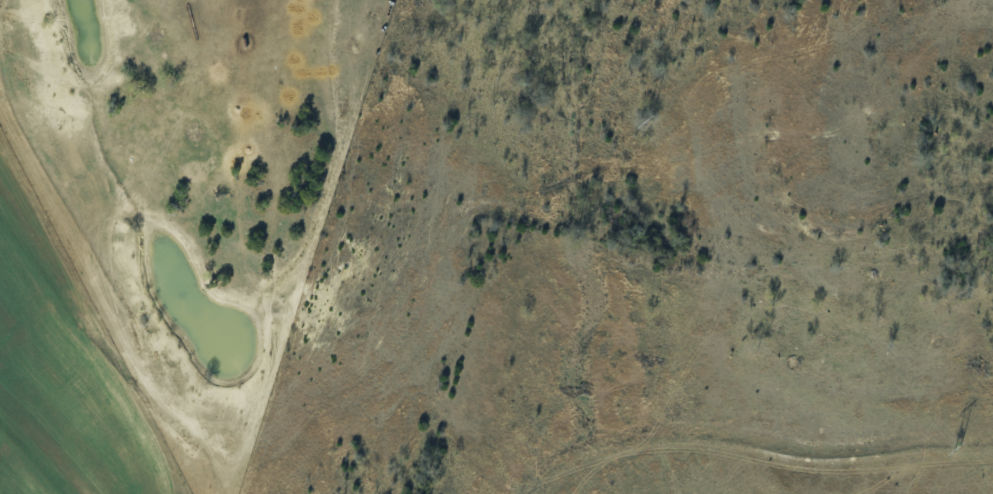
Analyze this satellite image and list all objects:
power tower: (647, 120)
power tower: (957, 446)

